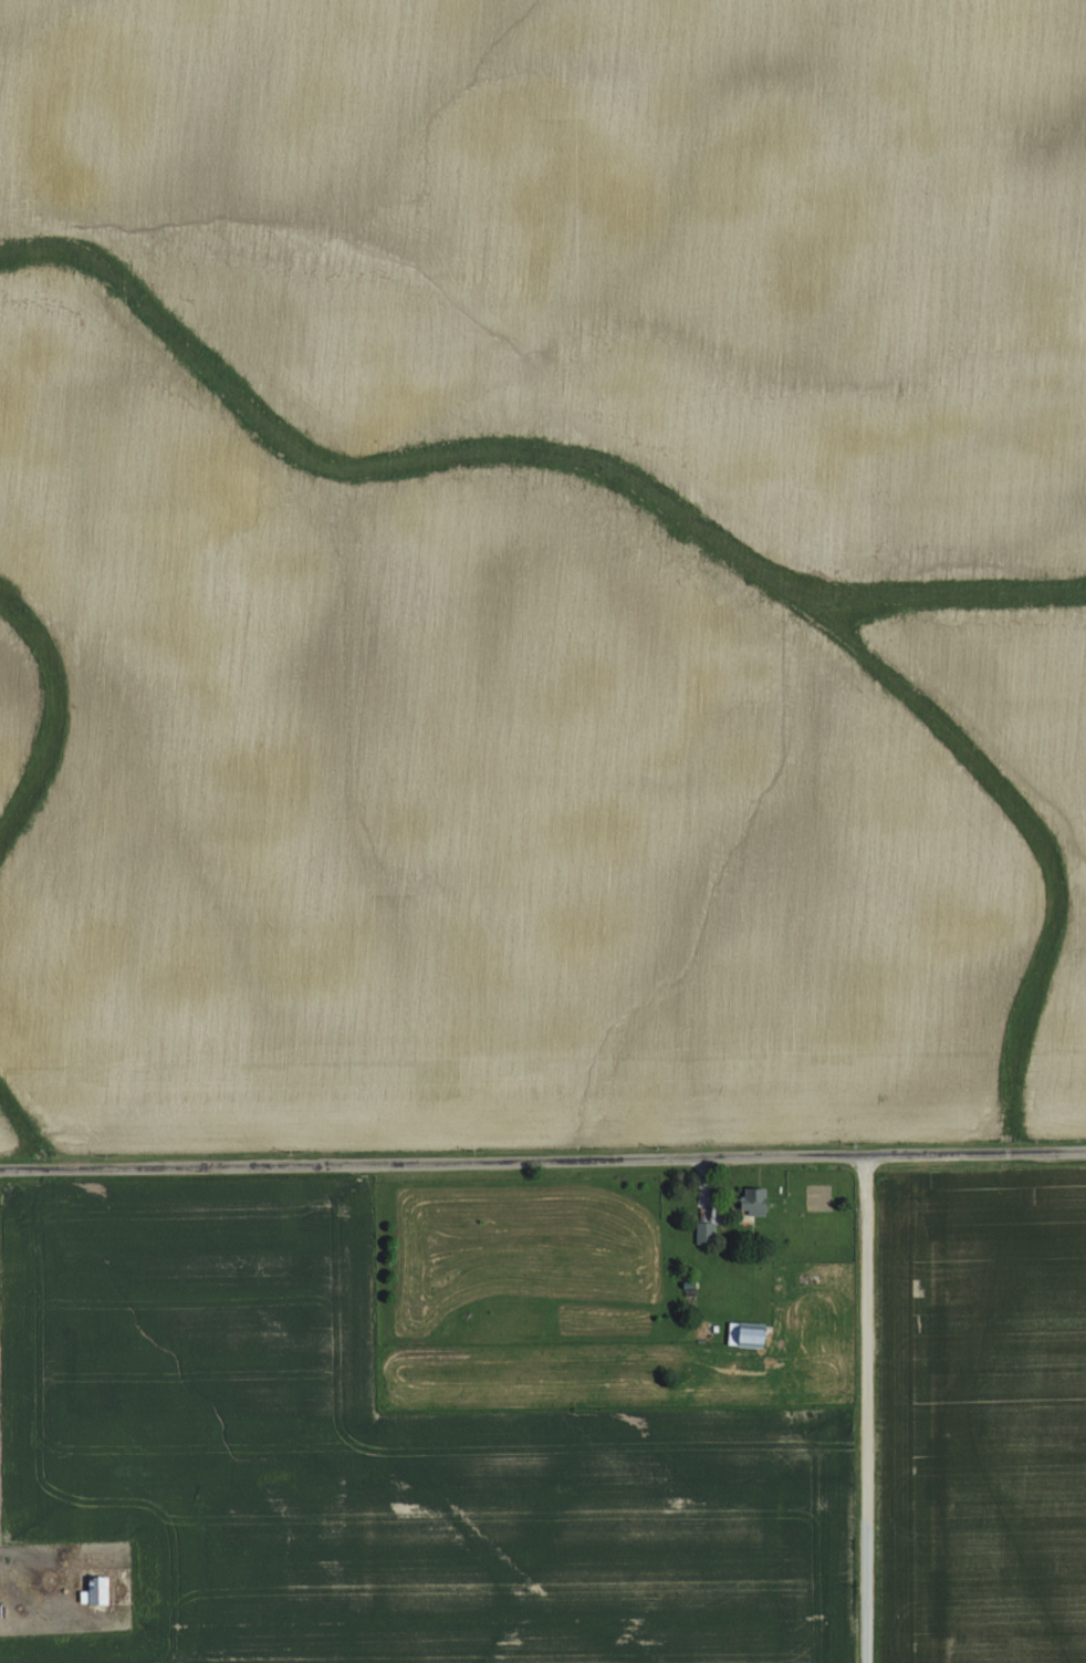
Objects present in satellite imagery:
road: (543, 1158)
building: (754, 1202)
building: (708, 1234)
building: (740, 1333)
road: (870, 1409)
building: (102, 1592)

